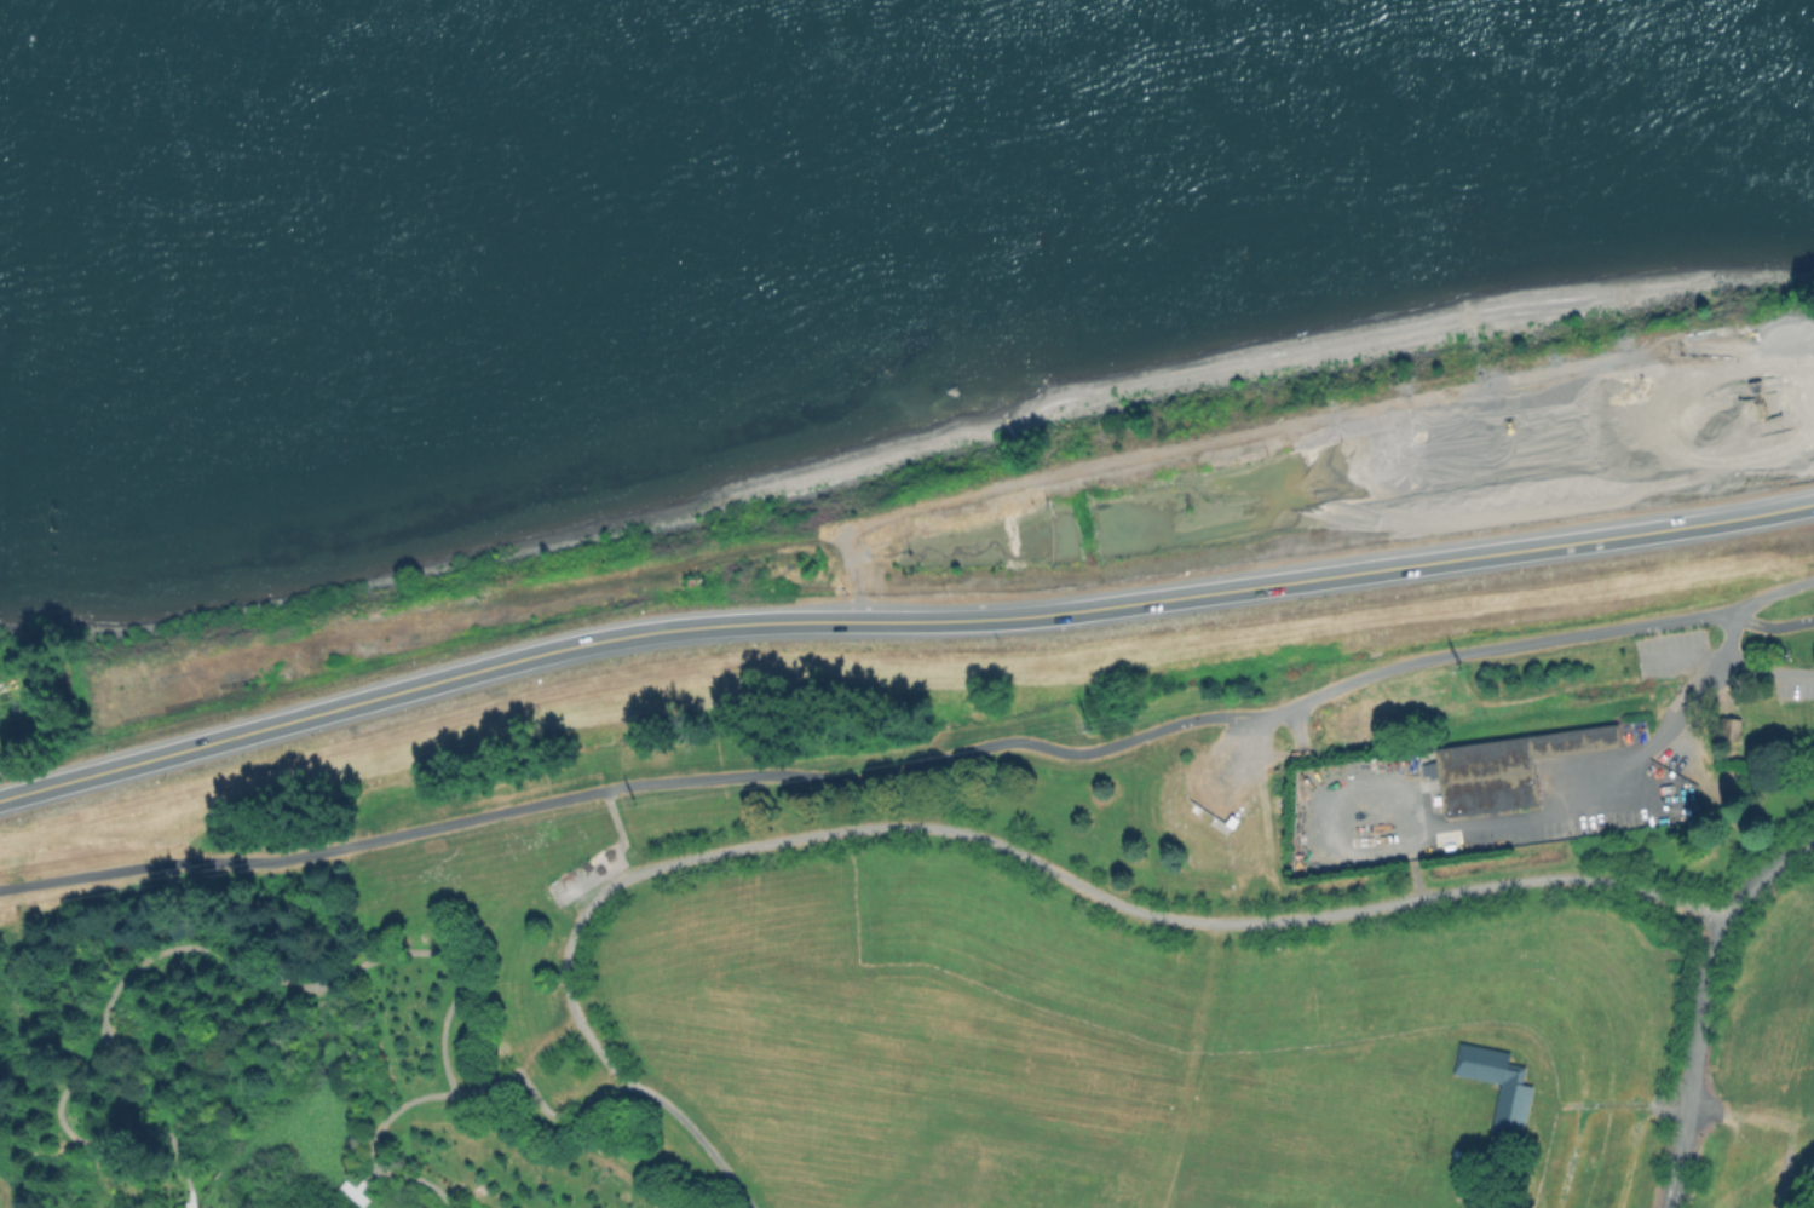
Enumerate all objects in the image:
road: (1751, 603)
park: (387, 620)
road: (899, 622)
parking lot: (1668, 652)
road: (1676, 657)
road: (1763, 673)
building: (1764, 725)
building: (1731, 726)
road: (910, 763)
building: (1514, 769)
road: (1595, 782)
building: (1677, 782)
road: (621, 832)
road: (1053, 869)
road: (1534, 907)
road: (1550, 937)
road: (188, 945)
park: (920, 967)
road: (1514, 989)
road: (1701, 1002)
road: (1747, 1045)
road: (1799, 1068)
building: (1501, 1083)
road: (448, 1094)
road: (1676, 1105)
road: (697, 1137)
road: (1630, 1155)
road: (1783, 1167)
road: (363, 1179)
road: (350, 1191)
road: (191, 1200)
road: (1812, 1203)

